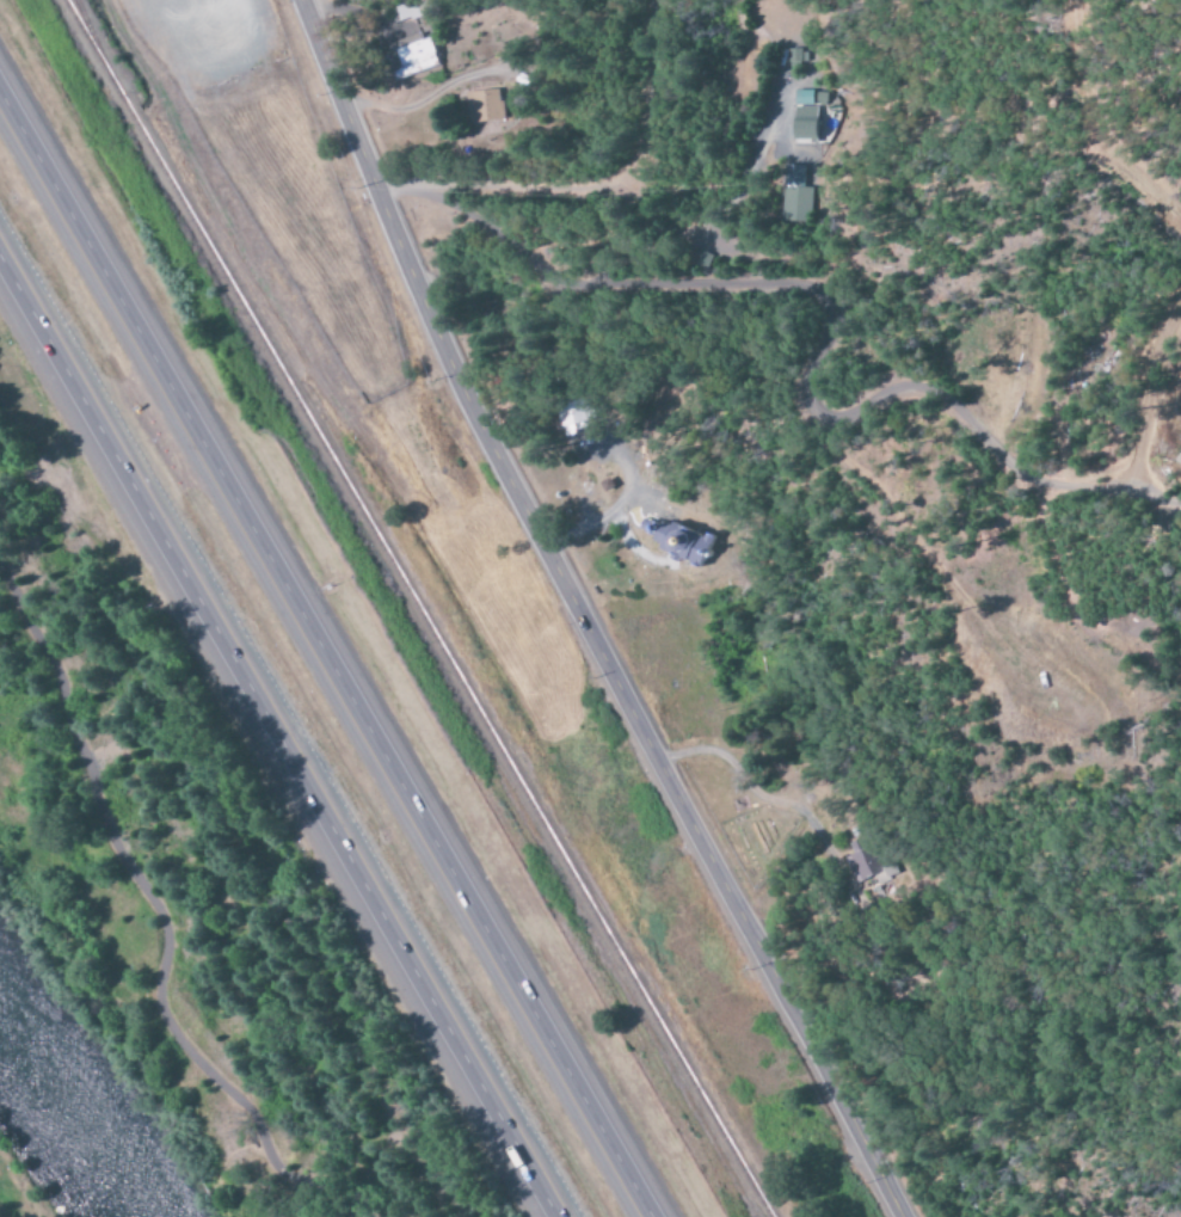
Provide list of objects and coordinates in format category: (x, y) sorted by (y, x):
building: (414, 56)
building: (810, 98)
building: (481, 105)
building: (804, 123)
building: (798, 196)
building: (679, 543)
railway: (416, 608)
road: (578, 617)
road: (326, 652)
road: (276, 731)
building: (865, 863)
road: (161, 912)
river: (63, 1115)

